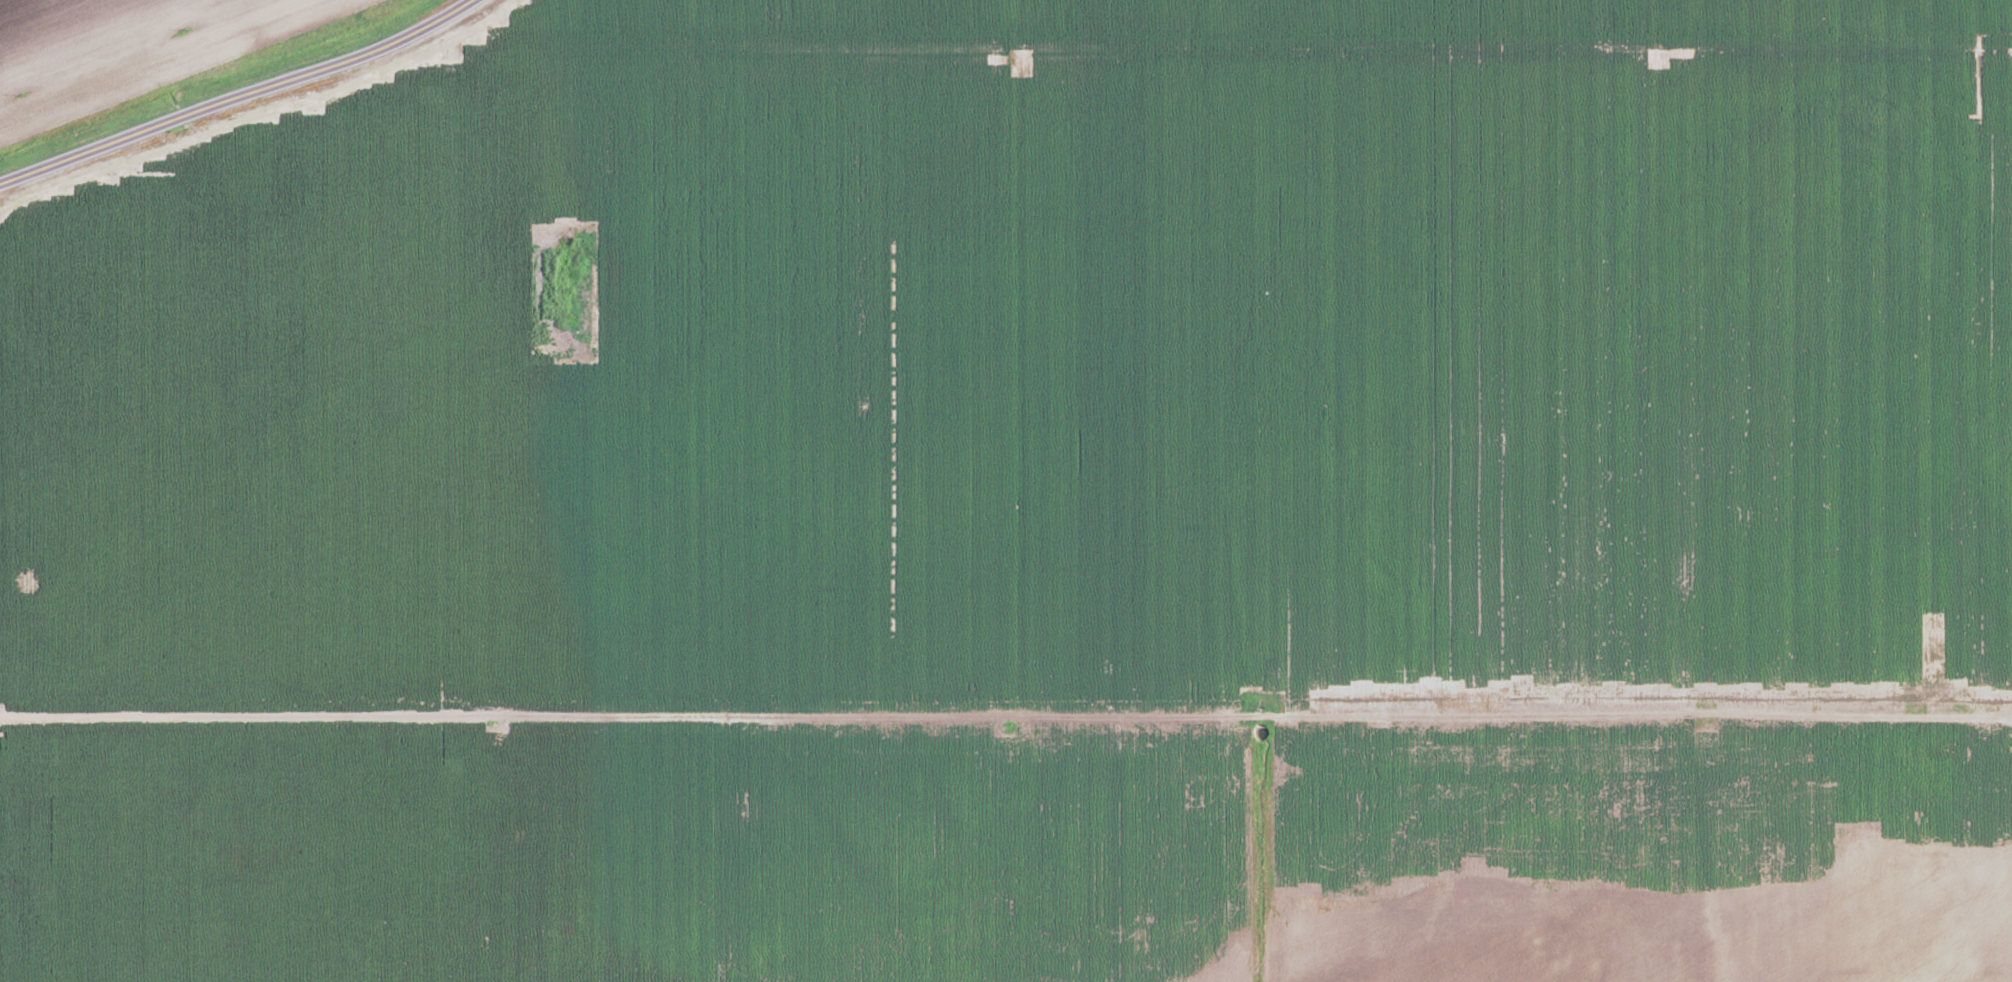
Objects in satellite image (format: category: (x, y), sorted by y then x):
road: (236, 100)
park: (559, 292)
road: (1512, 426)
road: (1005, 719)
road: (1704, 849)

